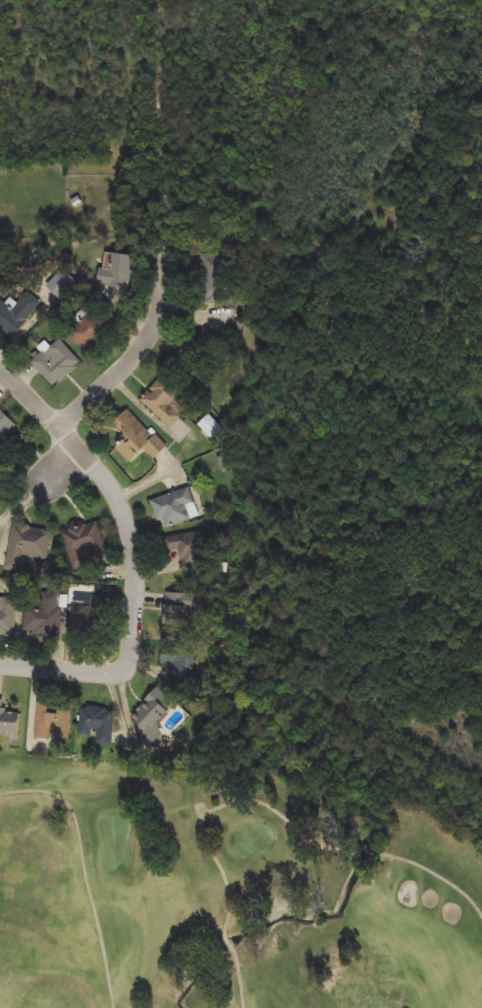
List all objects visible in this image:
building: (120, 271)
building: (214, 272)
building: (15, 315)
building: (92, 327)
building: (197, 350)
road: (135, 354)
building: (57, 363)
building: (164, 401)
building: (6, 426)
building: (136, 436)
road: (71, 468)
road: (118, 495)
building: (173, 508)
building: (27, 545)
building: (85, 545)
building: (190, 548)
building: (180, 607)
building: (96, 614)
building: (7, 615)
building: (38, 622)
building: (180, 663)
road: (64, 668)
building: (151, 718)
building: (8, 721)
building: (53, 722)
building: (98, 724)
road: (256, 805)
road: (86, 869)
park: (230, 888)

